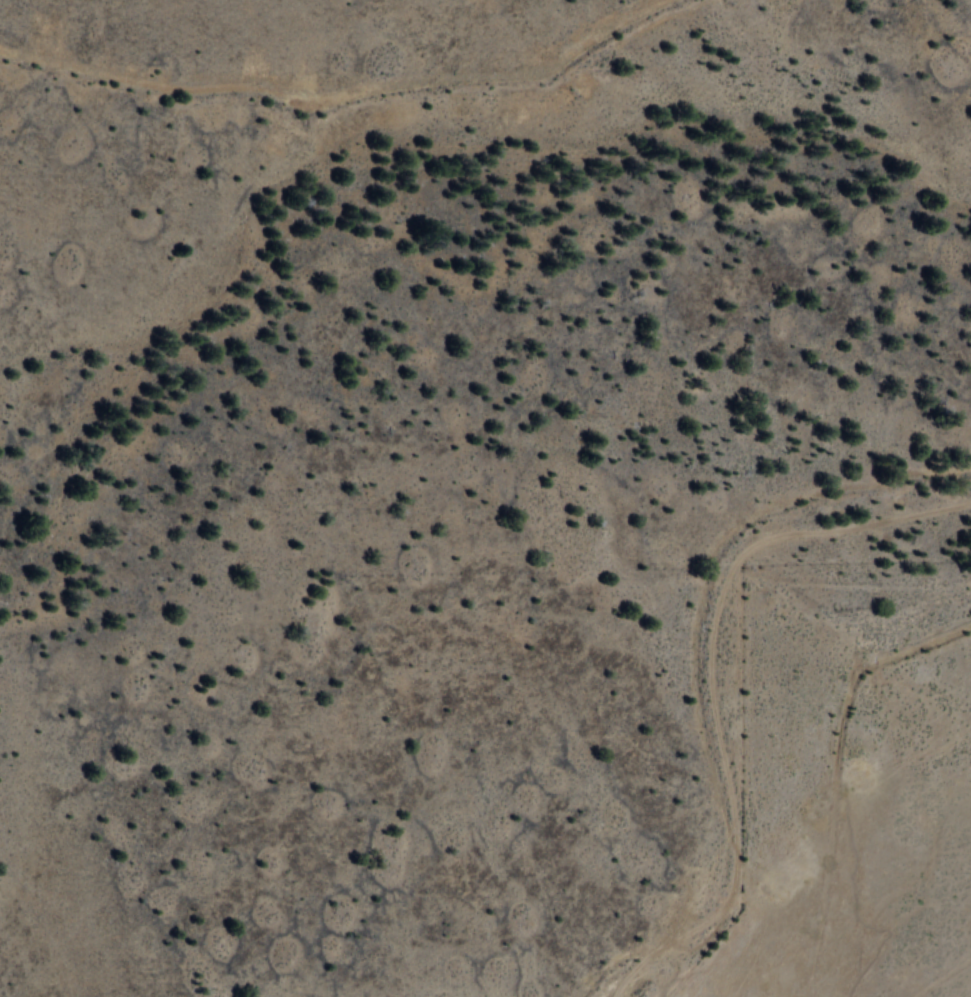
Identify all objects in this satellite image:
road: (711, 674)

